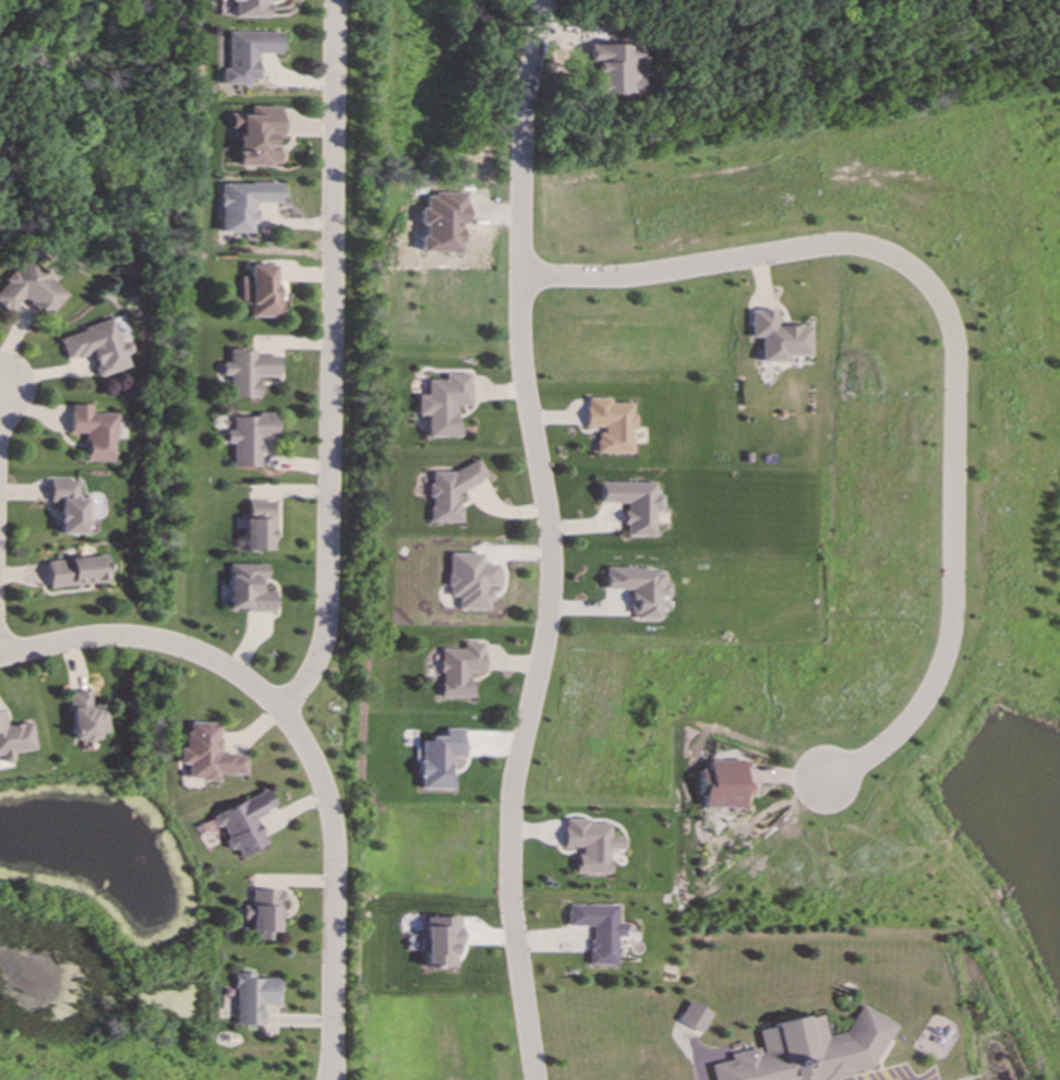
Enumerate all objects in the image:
building: (250, 8)
building: (249, 55)
building: (257, 136)
building: (244, 204)
building: (32, 289)
building: (258, 290)
building: (121, 328)
building: (776, 337)
road: (951, 343)
building: (96, 347)
road: (332, 364)
building: (246, 372)
building: (444, 404)
building: (611, 424)
building: (93, 432)
building: (250, 437)
building: (451, 491)
building: (635, 505)
building: (68, 506)
building: (258, 526)
road: (552, 540)
building: (76, 572)
building: (472, 580)
building: (249, 589)
building: (640, 589)
building: (460, 669)
building: (87, 718)
building: (14, 739)
road: (301, 741)
building: (208, 754)
building: (441, 758)
building: (723, 784)
building: (243, 823)
building: (590, 844)
building: (264, 913)
building: (599, 929)
building: (442, 940)
building: (254, 997)
building: (695, 1017)
building: (809, 1051)
road: (330, 1078)
road: (332, 1078)

